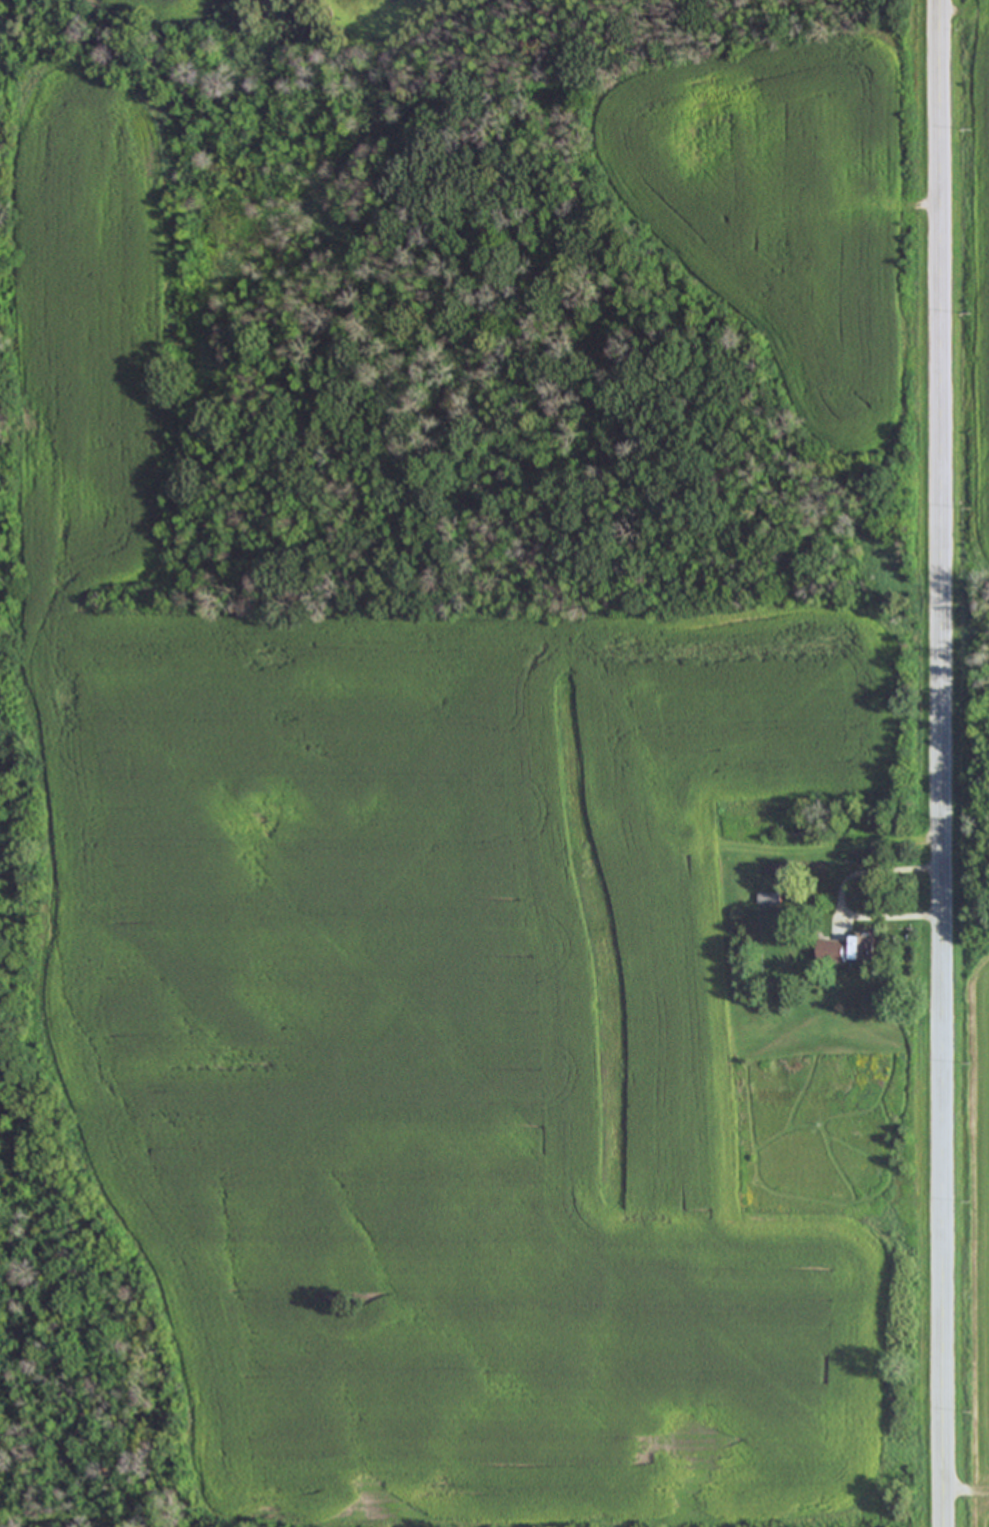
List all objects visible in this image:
road: (944, 763)
building: (771, 901)
building: (867, 949)
building: (835, 953)

